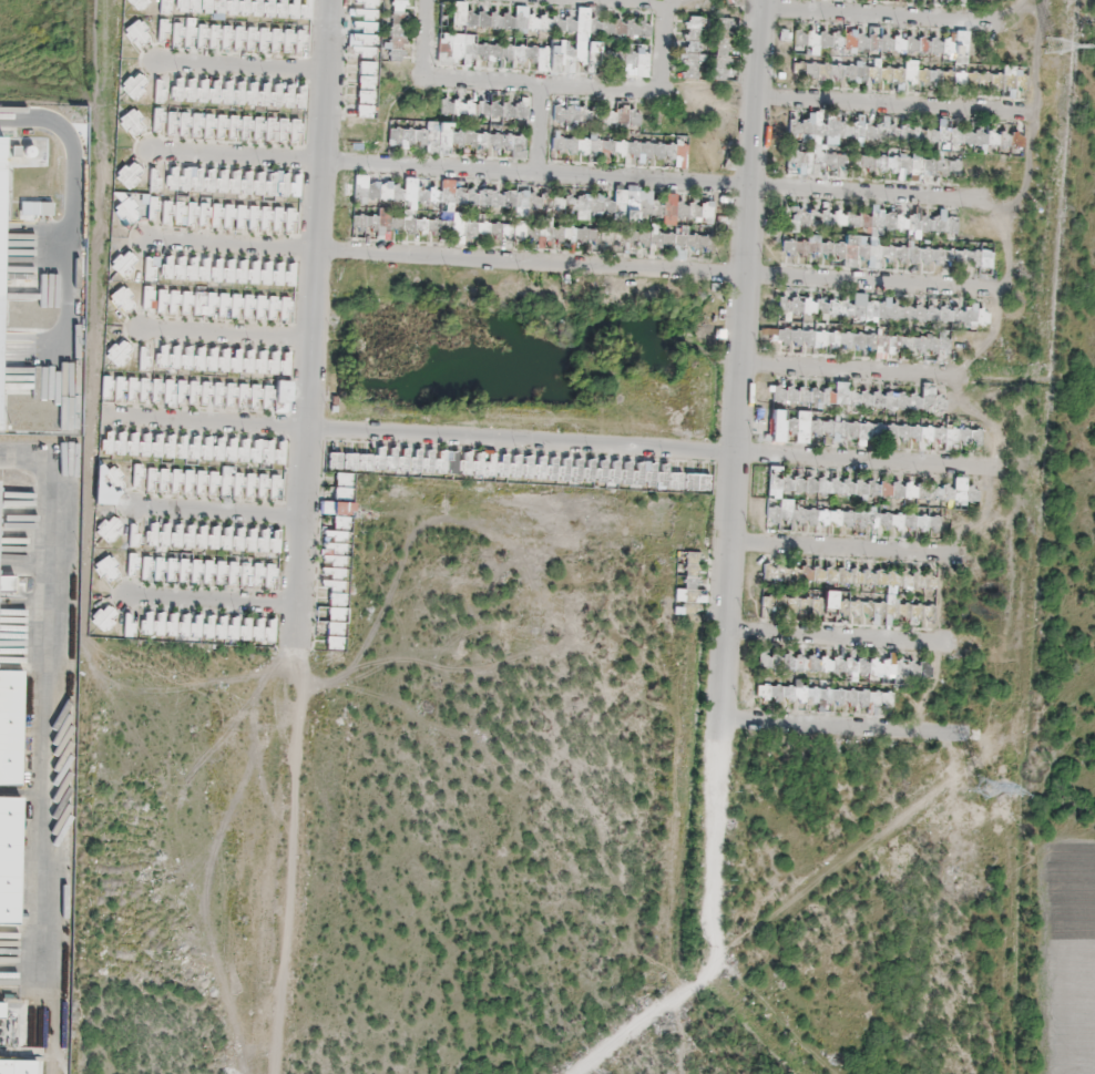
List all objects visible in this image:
power tower: (1052, 38)
power tower: (1006, 767)

